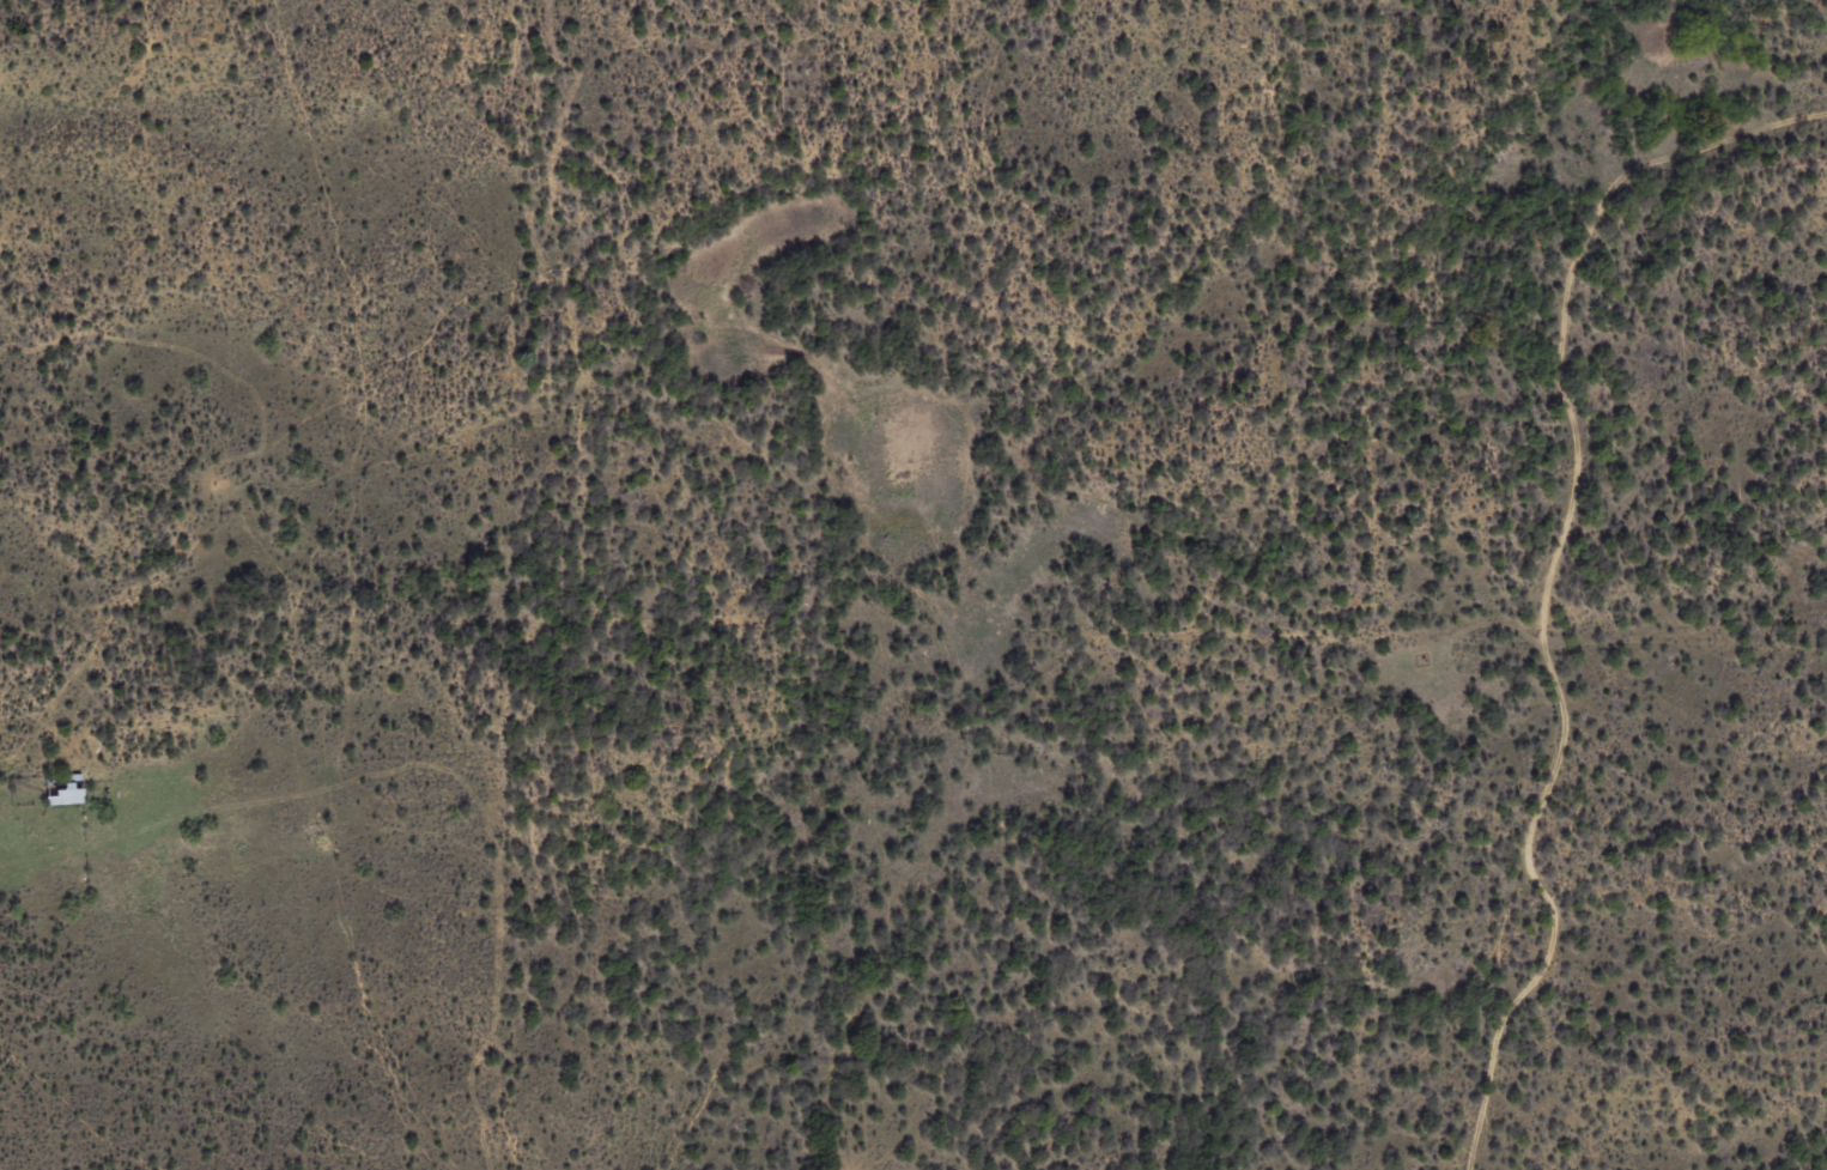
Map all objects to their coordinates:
road: (1573, 592)
building: (66, 794)

